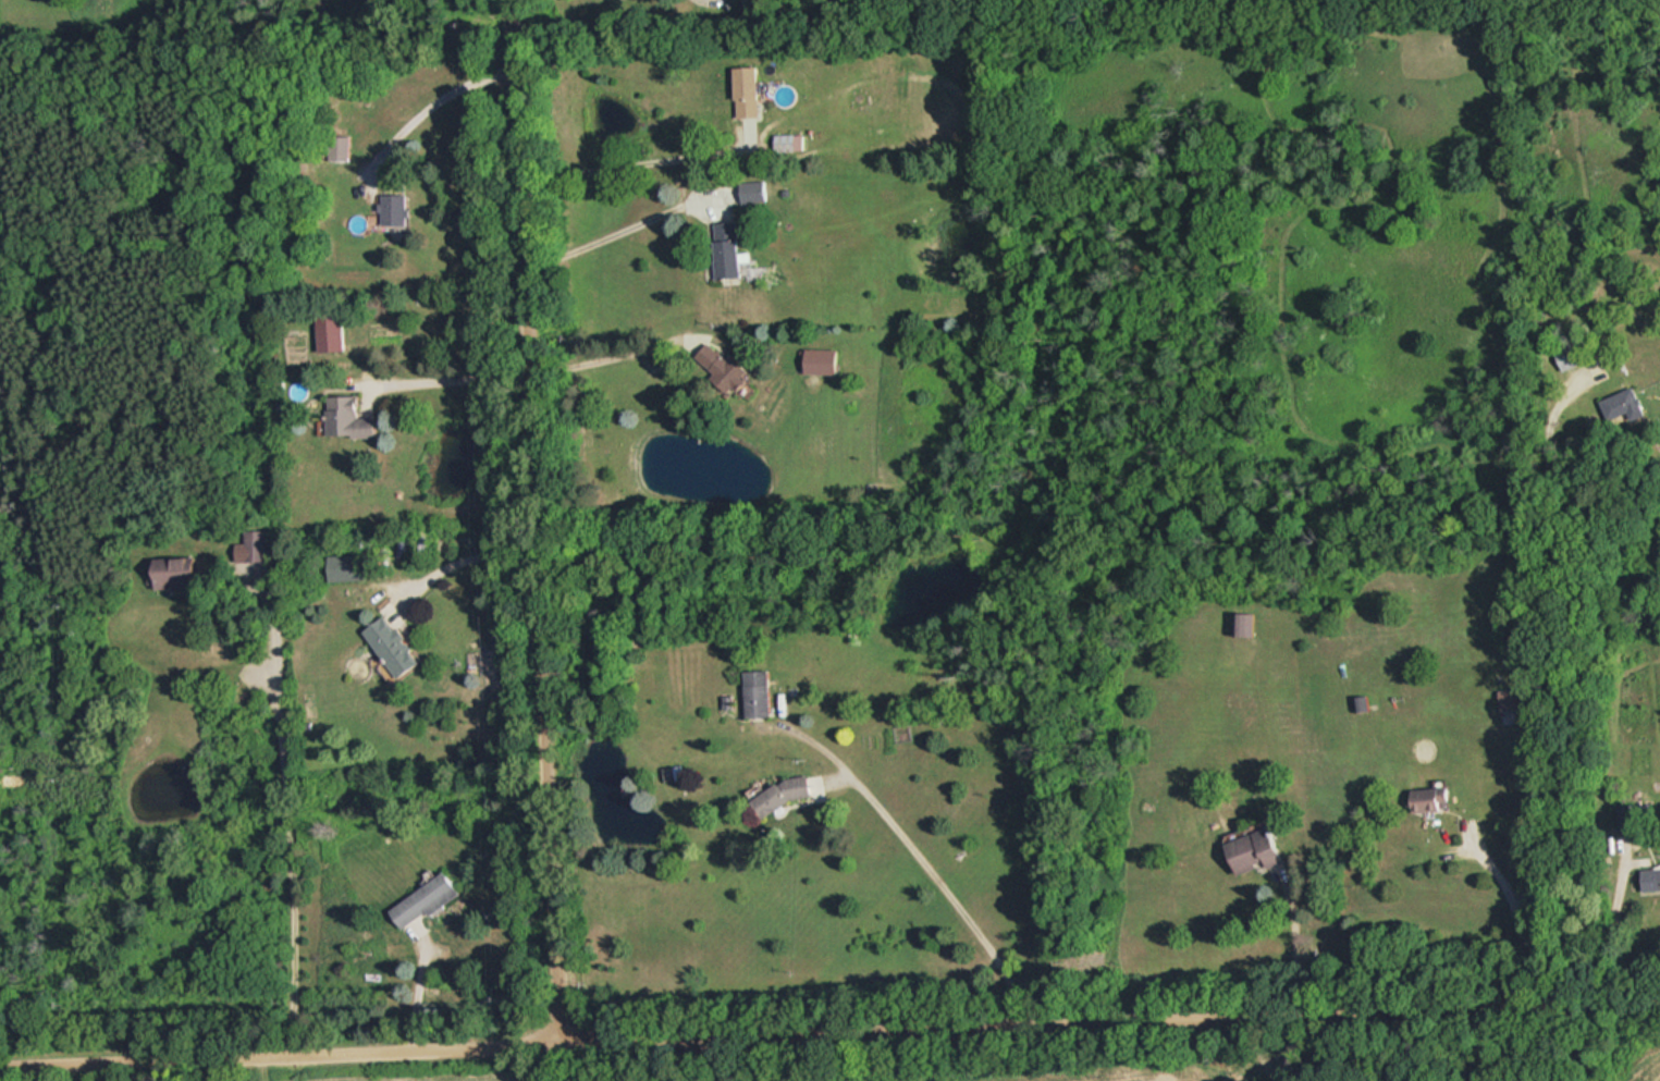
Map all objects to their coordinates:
building: (746, 93)
road: (433, 103)
road: (630, 161)
building: (757, 189)
building: (401, 208)
road: (624, 228)
building: (734, 248)
building: (335, 331)
building: (1571, 354)
road: (595, 357)
building: (726, 365)
road: (456, 379)
building: (1620, 404)
building: (355, 419)
road: (538, 520)
building: (253, 549)
road: (465, 557)
building: (175, 572)
building: (1239, 623)
building: (397, 644)
road: (1561, 684)
building: (762, 691)
building: (1507, 697)
building: (1357, 701)
building: (789, 793)
building: (1425, 798)
building: (1623, 815)
road: (291, 819)
building: (1247, 850)
building: (1648, 875)
road: (942, 883)
building: (428, 899)
road: (829, 1029)

